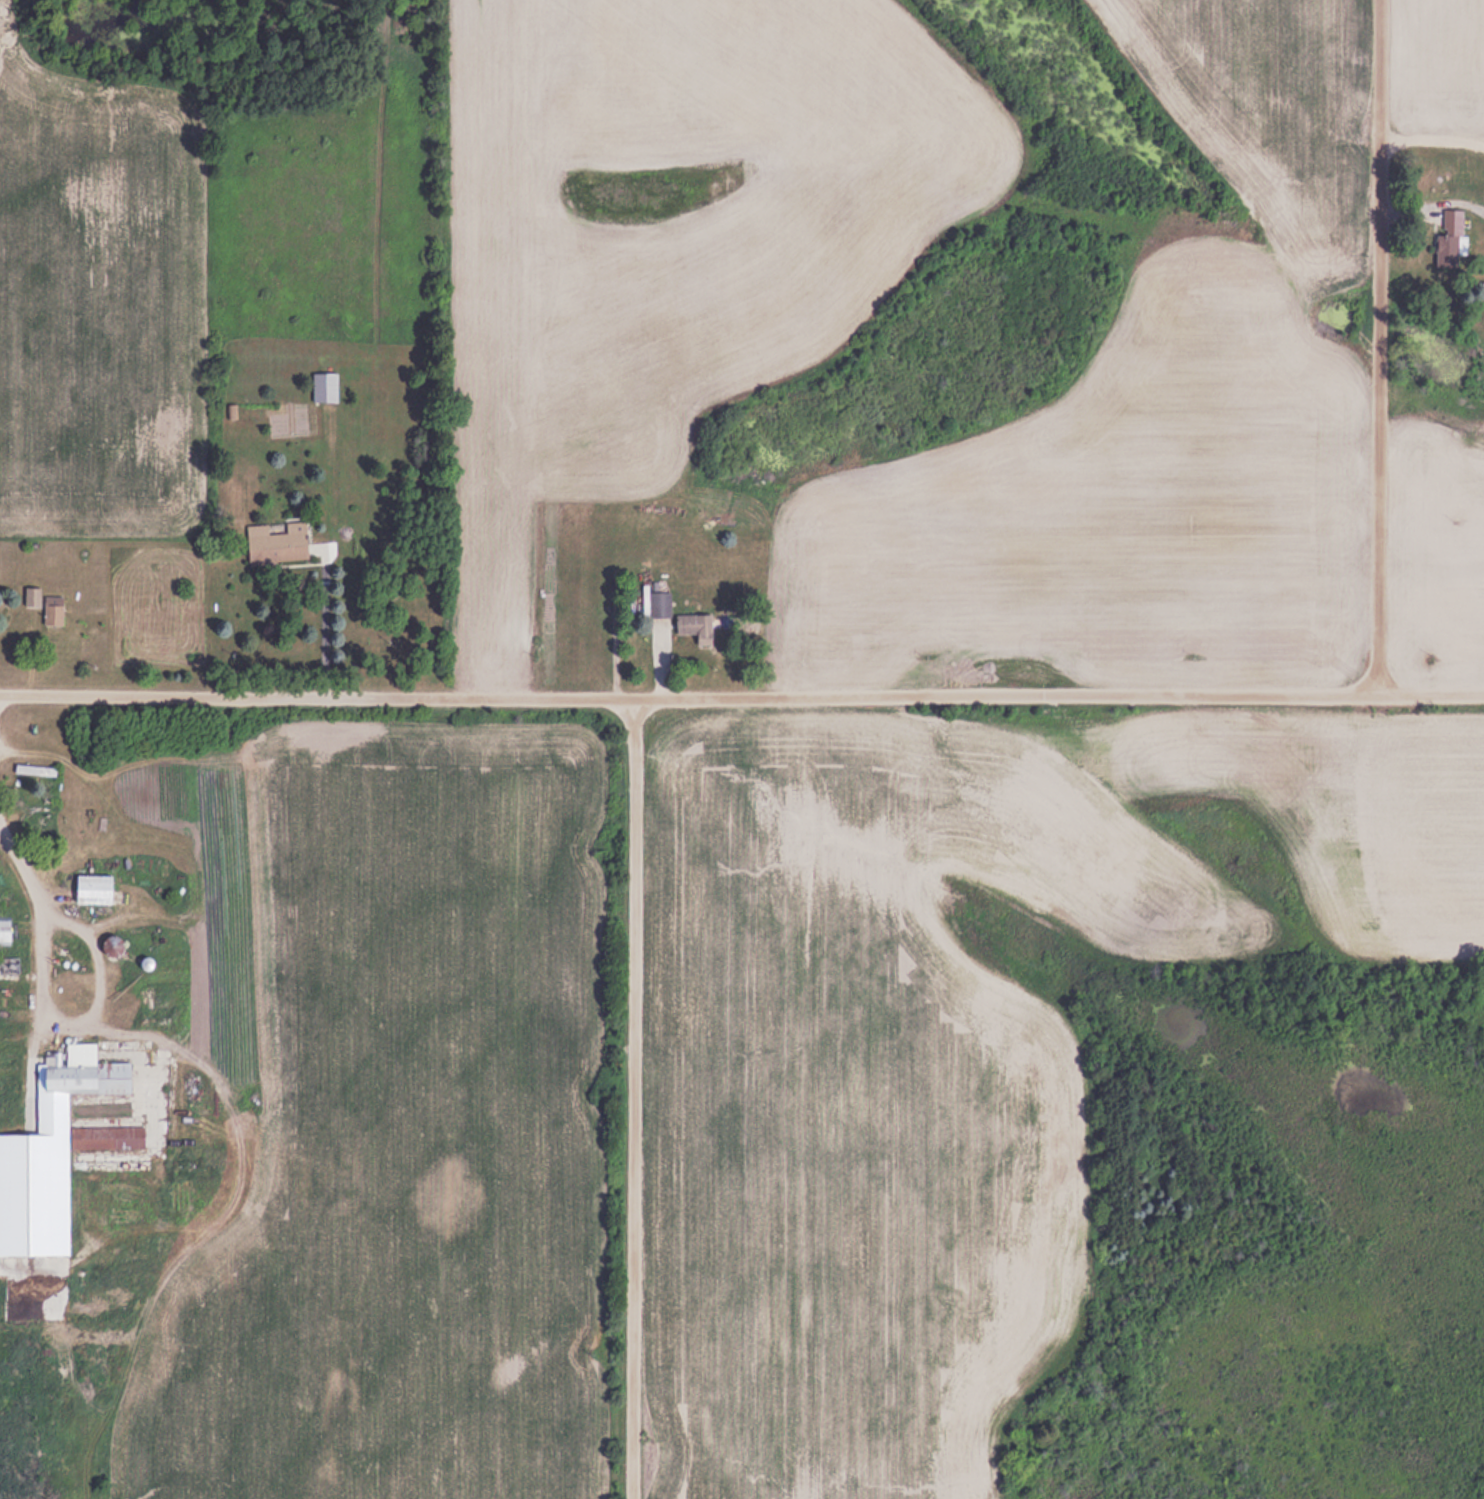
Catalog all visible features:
building: (1449, 239)
road: (1375, 348)
building: (324, 386)
building: (277, 542)
building: (31, 595)
building: (658, 602)
building: (52, 609)
building: (696, 625)
road: (1429, 695)
road: (686, 696)
building: (33, 768)
building: (93, 888)
building: (5, 929)
building: (113, 944)
building: (64, 947)
building: (5, 964)
road: (638, 1097)
building: (49, 1153)

